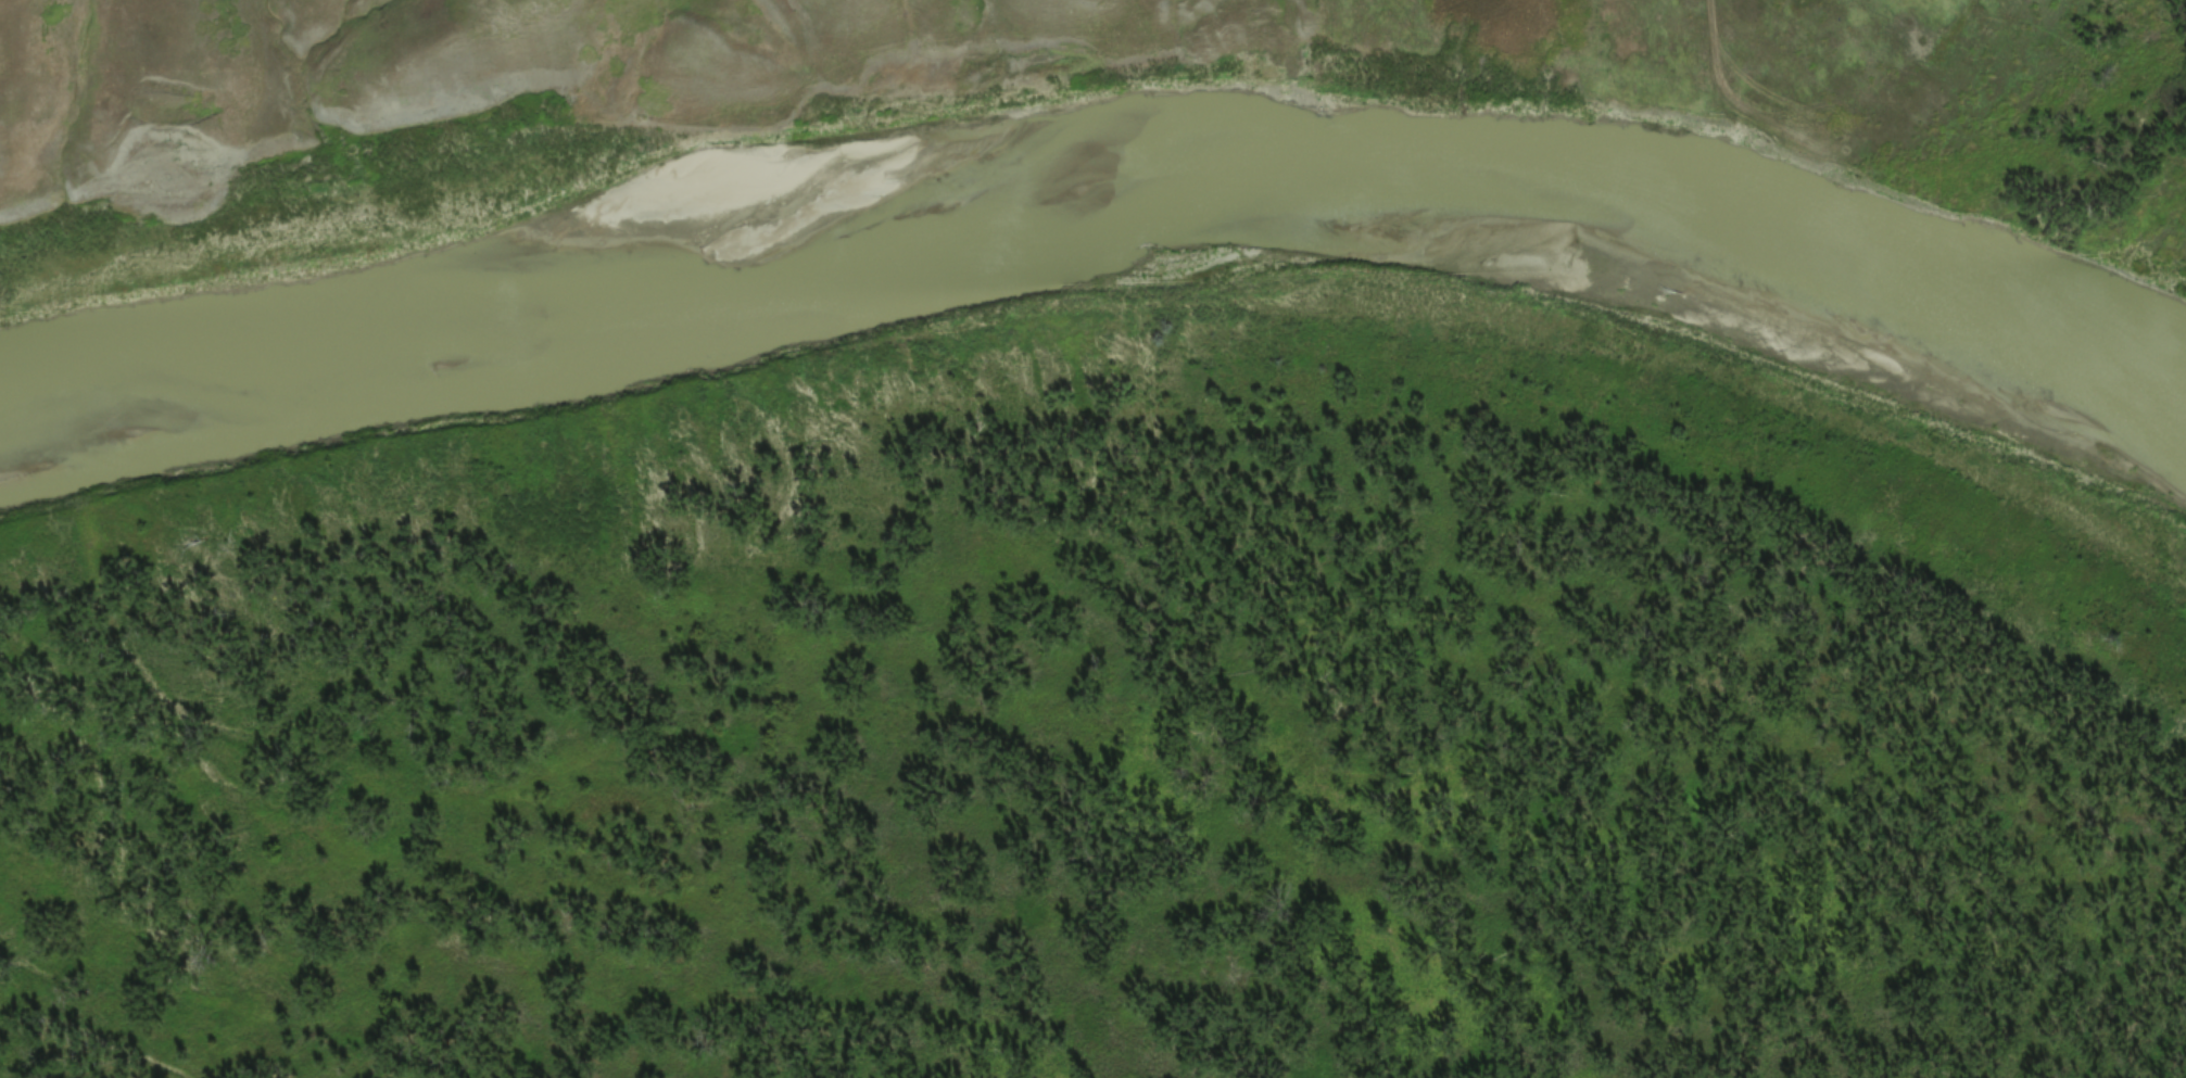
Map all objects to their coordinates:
river: (1086, 154)

